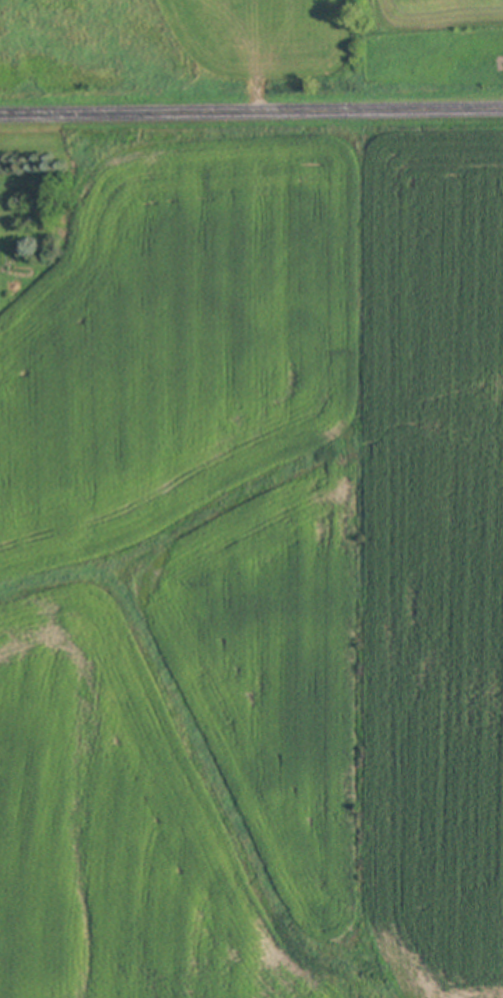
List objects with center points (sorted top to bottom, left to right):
road: (251, 112)

